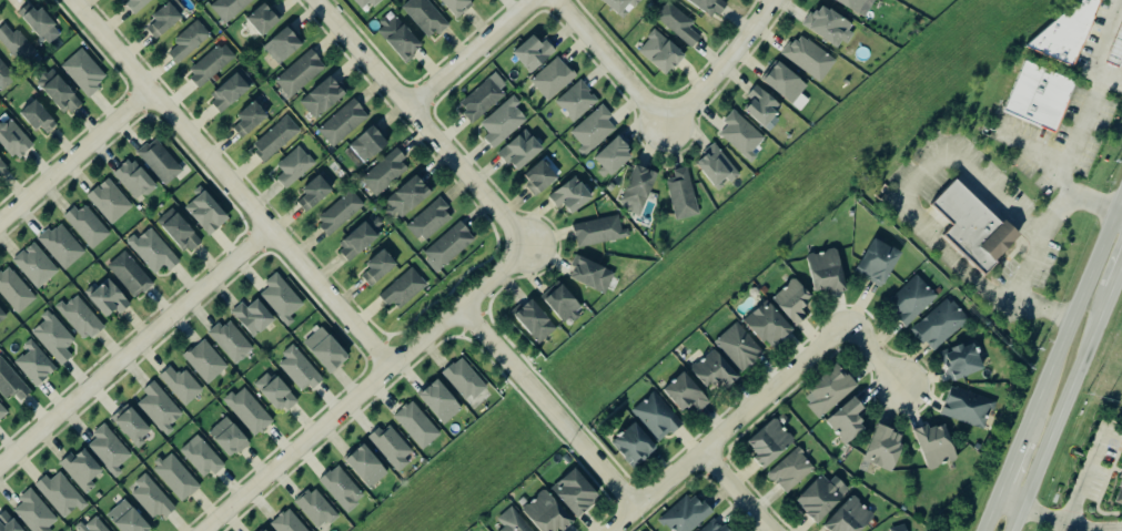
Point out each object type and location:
building: (365, 3)
building: (137, 4)
building: (620, 4)
building: (458, 6)
building: (858, 6)
building: (711, 7)
building: (229, 8)
building: (425, 17)
building: (163, 19)
building: (264, 19)
building: (40, 23)
building: (677, 23)
building: (829, 25)
building: (1068, 33)
building: (401, 39)
building: (188, 41)
building: (283, 44)
building: (17, 45)
road: (1101, 48)
building: (1115, 49)
gas station: (1115, 49)
building: (661, 52)
road: (473, 53)
building: (534, 53)
building: (810, 58)
road: (607, 59)
road: (724, 61)
building: (211, 64)
building: (84, 72)
building: (300, 73)
building: (6, 76)
building: (553, 79)
building: (785, 82)
building: (59, 92)
building: (230, 92)
building: (323, 98)
building: (483, 98)
building: (1041, 98)
building: (577, 101)
building: (761, 106)
road: (422, 115)
building: (252, 116)
building: (38, 118)
building: (503, 122)
building: (343, 123)
building: (593, 130)
building: (741, 135)
building: (13, 139)
building: (275, 139)
building: (368, 144)
building: (522, 150)
road: (72, 155)
building: (615, 156)
road: (1072, 156)
building: (160, 161)
building: (2, 165)
building: (717, 166)
building: (293, 167)
building: (386, 173)
road: (913, 174)
building: (542, 176)
building: (133, 180)
road: (229, 182)
building: (638, 190)
building: (315, 193)
building: (683, 194)
building: (572, 195)
building: (407, 197)
building: (109, 201)
road: (1118, 204)
building: (206, 213)
building: (341, 213)
road: (1118, 216)
building: (431, 221)
building: (87, 226)
building: (974, 226)
building: (179, 231)
building: (599, 231)
building: (361, 238)
building: (61, 245)
building: (448, 246)
building: (152, 251)
building: (877, 262)
building: (34, 265)
building: (380, 267)
building: (828, 272)
building: (592, 274)
road: (1024, 274)
road: (1118, 274)
building: (130, 275)
building: (403, 289)
building: (14, 290)
building: (764, 290)
building: (109, 298)
building: (282, 298)
building: (911, 299)
building: (794, 300)
building: (562, 302)
building: (2, 315)
building: (80, 317)
building: (253, 317)
building: (534, 320)
building: (769, 324)
building: (940, 325)
road: (1068, 325)
building: (53, 338)
building: (231, 341)
building: (740, 346)
road: (135, 348)
building: (326, 350)
building: (205, 361)
building: (964, 361)
building: (34, 364)
building: (299, 370)
building: (716, 370)
building: (463, 379)
building: (10, 384)
building: (180, 385)
road: (365, 388)
building: (829, 391)
building: (276, 392)
building: (687, 394)
building: (441, 401)
road: (755, 402)
building: (968, 407)
road: (1061, 407)
building: (159, 408)
road: (547, 408)
building: (2, 409)
building: (249, 411)
building: (657, 417)
building: (849, 421)
building: (131, 425)
building: (415, 425)
building: (229, 438)
building: (770, 443)
building: (634, 446)
building: (936, 446)
building: (391, 447)
building: (886, 448)
building: (109, 449)
building: (201, 457)
building: (365, 466)
road: (1009, 466)
building: (82, 470)
building: (791, 470)
building: (175, 478)
building: (341, 489)
road: (739, 491)
building: (576, 492)
building: (60, 494)
building: (151, 498)
building: (822, 498)
building: (1120, 498)
road: (1008, 501)
building: (316, 508)
building: (34, 512)
building: (548, 512)
building: (685, 513)
road: (988, 513)
building: (850, 517)
building: (127, 518)
road: (1071, 518)
building: (513, 521)
building: (286, 522)
building: (8, 523)
building: (93, 524)
building: (715, 527)
building: (899, 528)
building: (262, 530)

